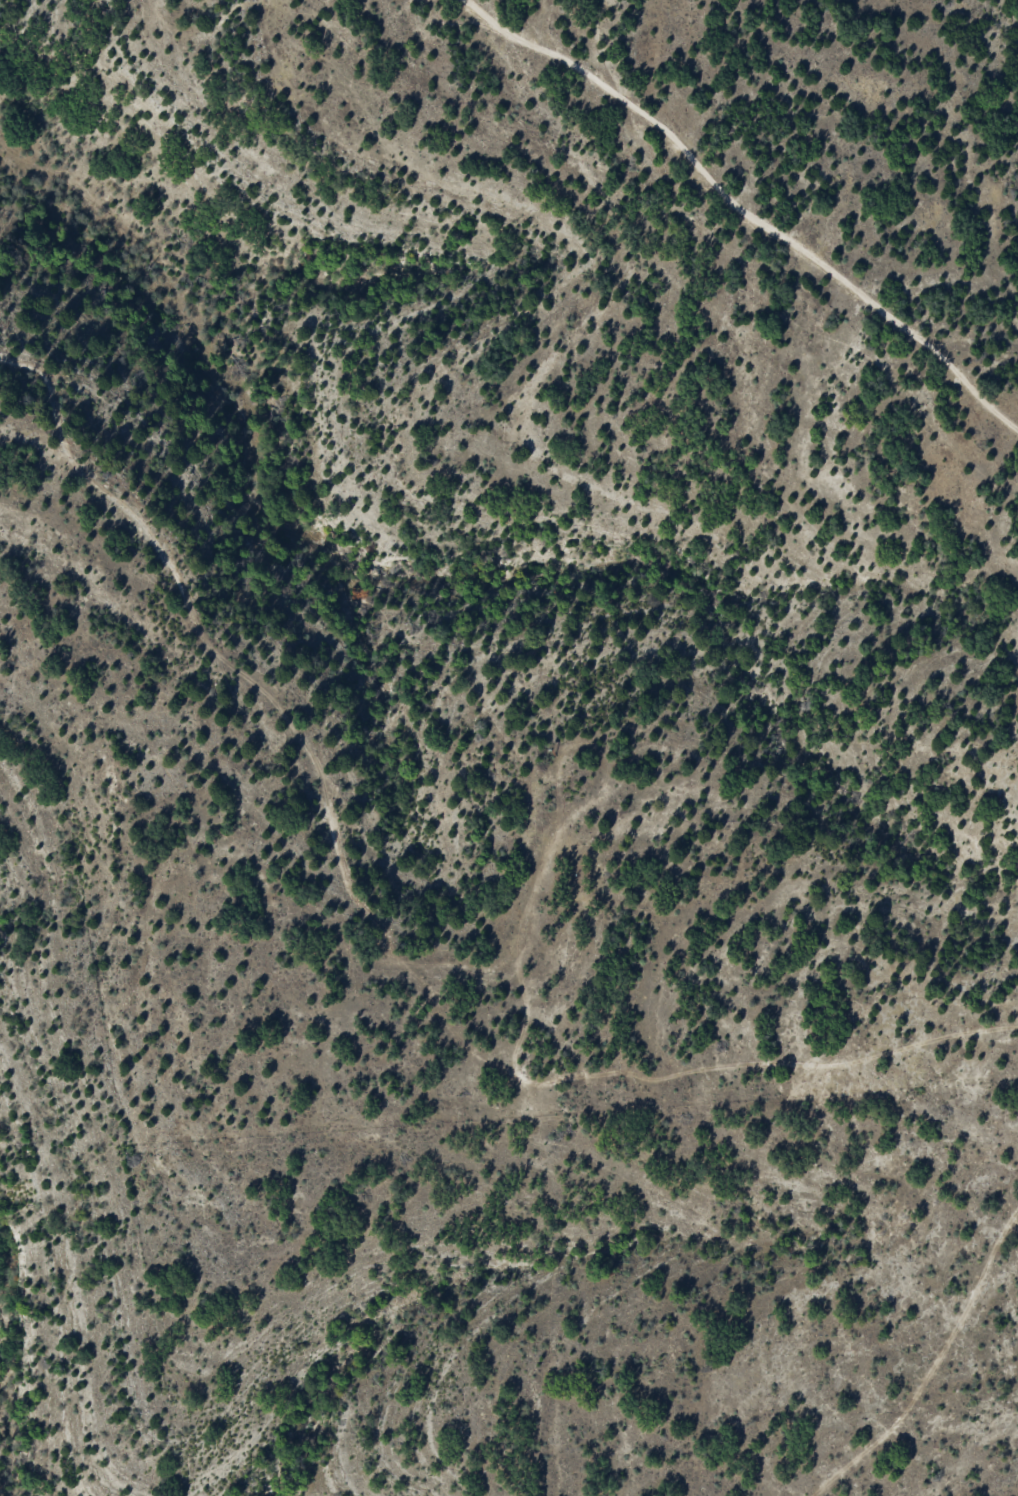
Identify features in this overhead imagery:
road: (695, 187)

